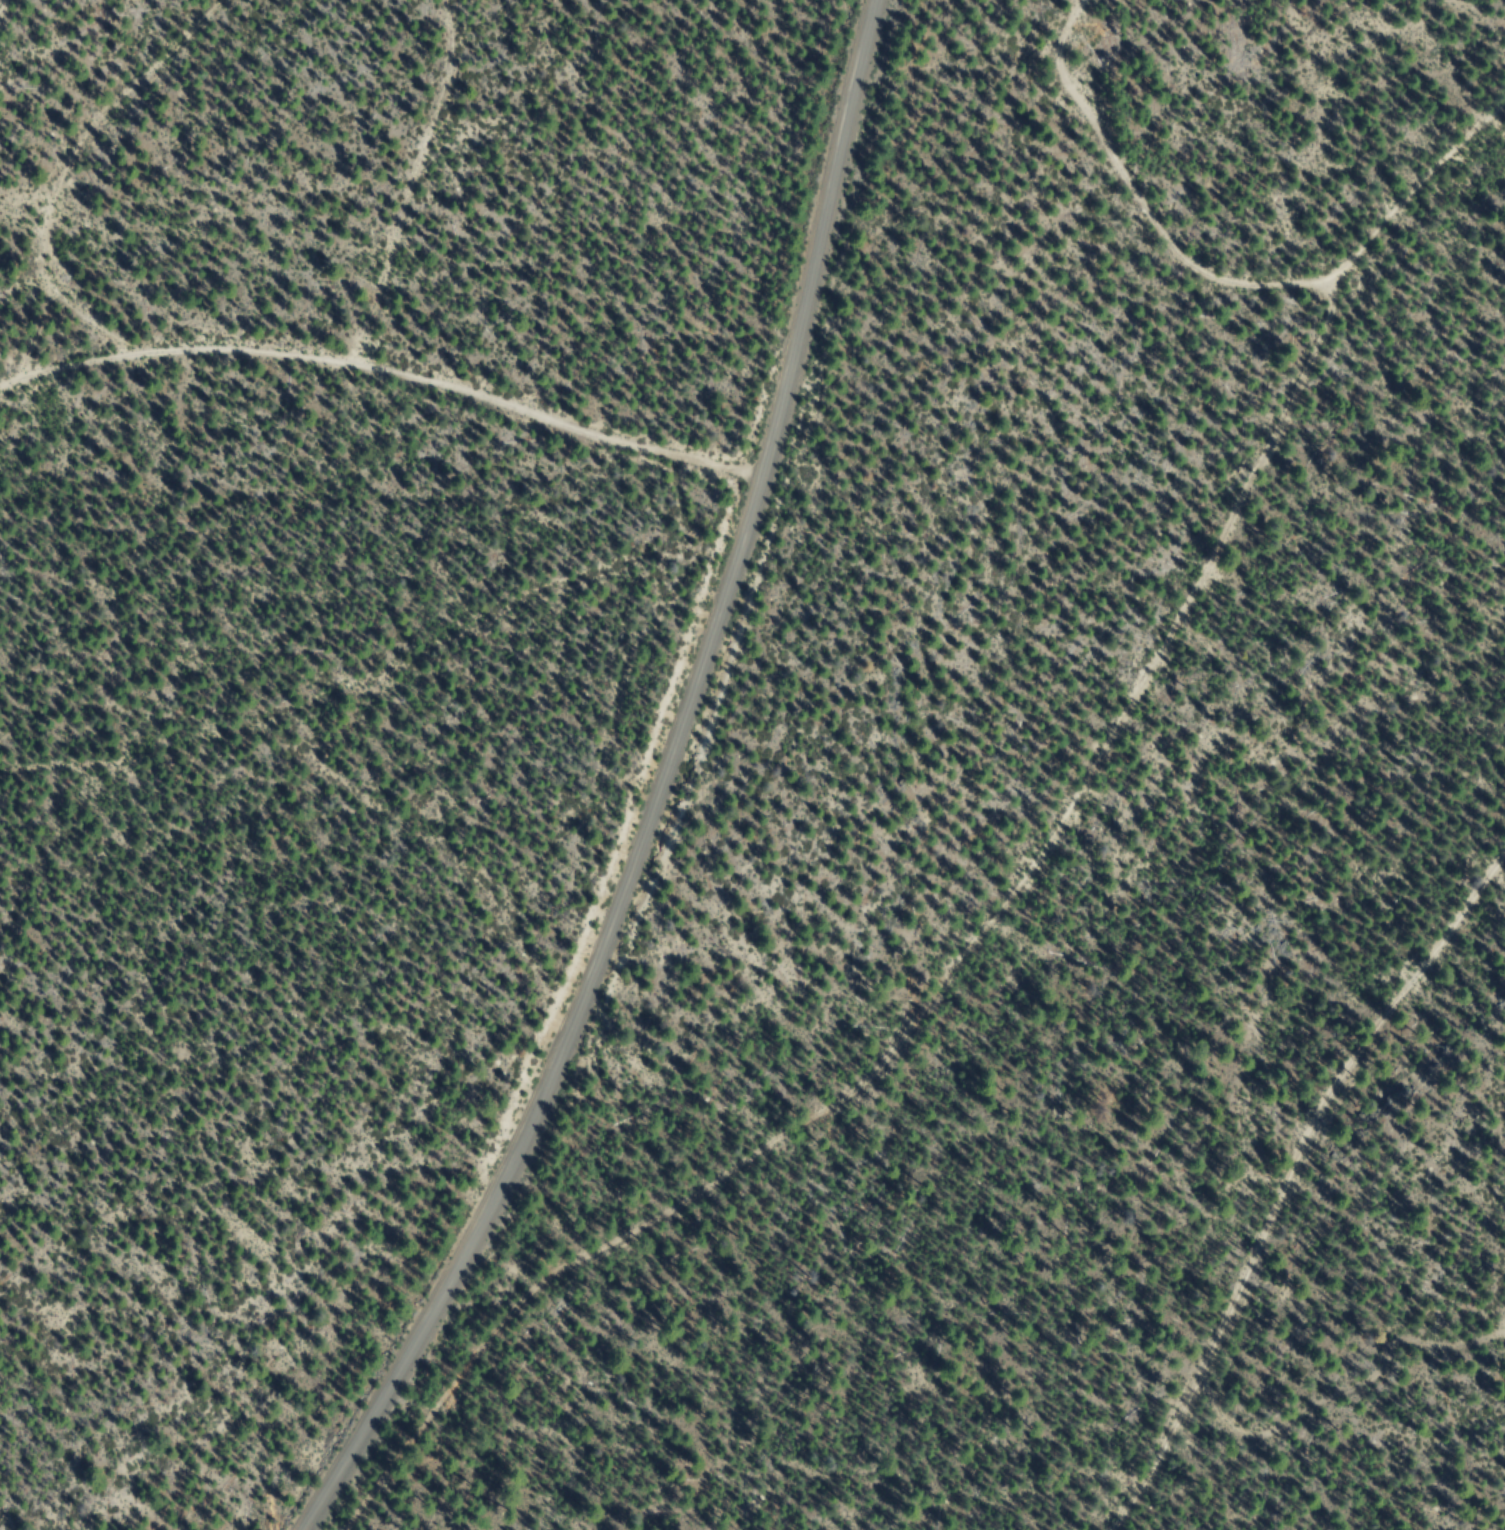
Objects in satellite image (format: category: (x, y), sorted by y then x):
road: (20, 48)
road: (92, 137)
road: (449, 160)
road: (1145, 198)
road: (406, 324)
road: (698, 801)
road: (1014, 896)
road: (1289, 1193)

